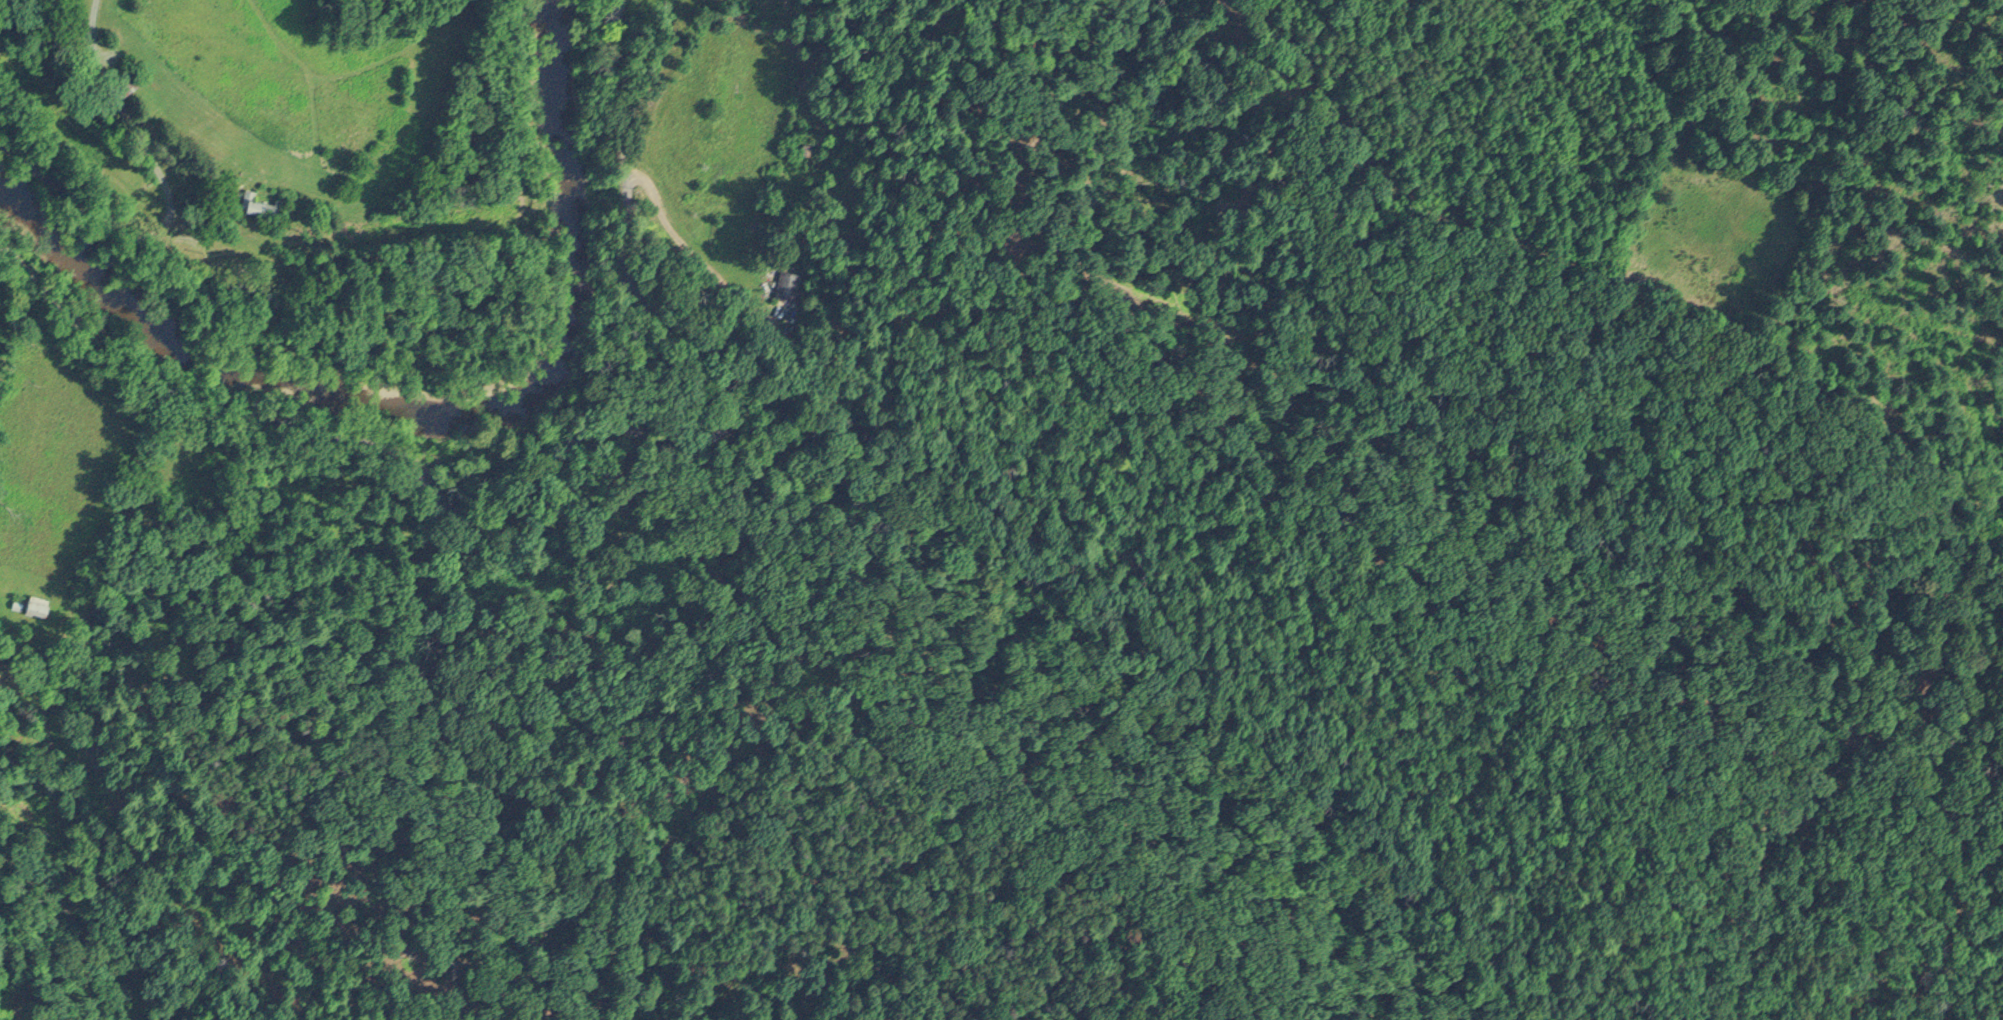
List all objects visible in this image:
building: (131, 79)
road: (157, 252)
building: (787, 281)
road: (123, 377)
river: (416, 381)
road: (712, 447)
building: (35, 603)

